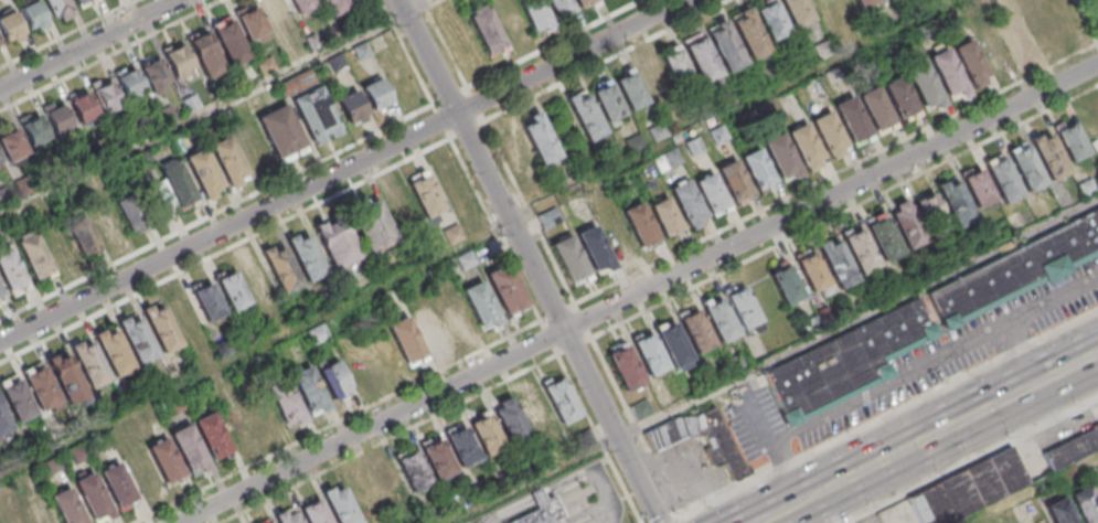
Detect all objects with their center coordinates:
building: (352, 0)
building: (79, 1)
building: (90, 1)
road: (1097, 1)
building: (584, 2)
building: (864, 2)
building: (301, 6)
building: (334, 6)
building: (559, 8)
building: (58, 9)
building: (276, 10)
building: (797, 11)
building: (32, 13)
building: (534, 13)
building: (1066, 17)
building: (509, 19)
building: (771, 19)
road: (1088, 19)
building: (252, 23)
building: (1041, 23)
building: (9, 25)
building: (486, 30)
building: (749, 35)
building: (230, 41)
road: (86, 43)
building: (1019, 43)
road: (446, 44)
building: (0, 46)
building: (726, 47)
building: (993, 50)
building: (205, 54)
building: (701, 56)
road: (850, 56)
building: (179, 61)
road: (609, 61)
building: (970, 62)
building: (675, 66)
building: (947, 71)
building: (154, 75)
building: (652, 76)
building: (130, 83)
building: (924, 84)
building: (629, 88)
building: (376, 94)
building: (106, 95)
building: (900, 98)
building: (606, 99)
road: (478, 105)
building: (351, 106)
building: (82, 107)
road: (216, 108)
building: (876, 110)
building: (585, 114)
building: (316, 115)
building: (57, 117)
building: (851, 119)
building: (33, 128)
building: (281, 132)
building: (828, 134)
building: (540, 138)
building: (12, 145)
building: (804, 145)
building: (512, 147)
building: (1059, 151)
building: (780, 156)
building: (667, 160)
building: (228, 161)
building: (0, 162)
building: (756, 168)
road: (343, 170)
building: (204, 173)
building: (1014, 174)
road: (838, 175)
building: (733, 180)
building: (451, 184)
building: (173, 186)
building: (978, 189)
building: (425, 193)
building: (711, 193)
building: (687, 203)
building: (399, 204)
building: (945, 205)
building: (131, 212)
road: (532, 213)
road: (846, 214)
building: (664, 216)
building: (472, 221)
building: (107, 223)
building: (639, 223)
building: (372, 224)
building: (907, 225)
road: (498, 231)
building: (615, 234)
building: (83, 236)
building: (883, 236)
building: (337, 242)
building: (58, 246)
building: (593, 247)
building: (860, 249)
building: (34, 255)
building: (306, 255)
building: (567, 255)
road: (532, 261)
building: (835, 261)
building: (280, 267)
building: (12, 273)
building: (812, 273)
building: (1017, 274)
building: (256, 280)
building: (787, 284)
building: (505, 289)
building: (233, 291)
building: (0, 295)
road: (640, 296)
building: (207, 300)
building: (480, 305)
building: (183, 311)
road: (559, 313)
building: (731, 314)
building: (456, 318)
road: (585, 321)
building: (161, 327)
building: (430, 328)
building: (318, 334)
building: (137, 339)
road: (552, 339)
building: (406, 341)
road: (576, 346)
road: (256, 350)
building: (114, 351)
building: (649, 353)
road: (1017, 356)
road: (774, 361)
building: (89, 362)
building: (849, 364)
building: (625, 366)
road: (912, 374)
building: (66, 377)
building: (333, 377)
building: (41, 386)
building: (309, 391)
building: (17, 398)
building: (561, 398)
building: (286, 404)
building: (641, 408)
building: (535, 409)
road: (888, 410)
building: (262, 416)
road: (968, 417)
building: (510, 419)
building: (4, 421)
road: (341, 421)
building: (236, 425)
road: (637, 426)
building: (486, 433)
building: (213, 436)
building: (702, 438)
road: (390, 439)
road: (599, 439)
building: (461, 446)
building: (1072, 448)
building: (189, 450)
building: (437, 458)
road: (972, 459)
building: (164, 460)
building: (413, 470)
road: (595, 471)
building: (996, 477)
building: (388, 483)
building: (117, 485)
road: (1031, 489)
building: (93, 497)
road: (541, 497)
road: (806, 499)
building: (340, 504)
building: (1085, 504)
building: (67, 506)
building: (543, 510)
building: (313, 511)
road: (512, 511)
building: (1059, 511)
building: (40, 512)
building: (287, 515)
road: (673, 519)
road: (682, 519)
road: (767, 519)
building: (17, 520)
building: (266, 521)
road: (606, 521)
road: (609, 521)

